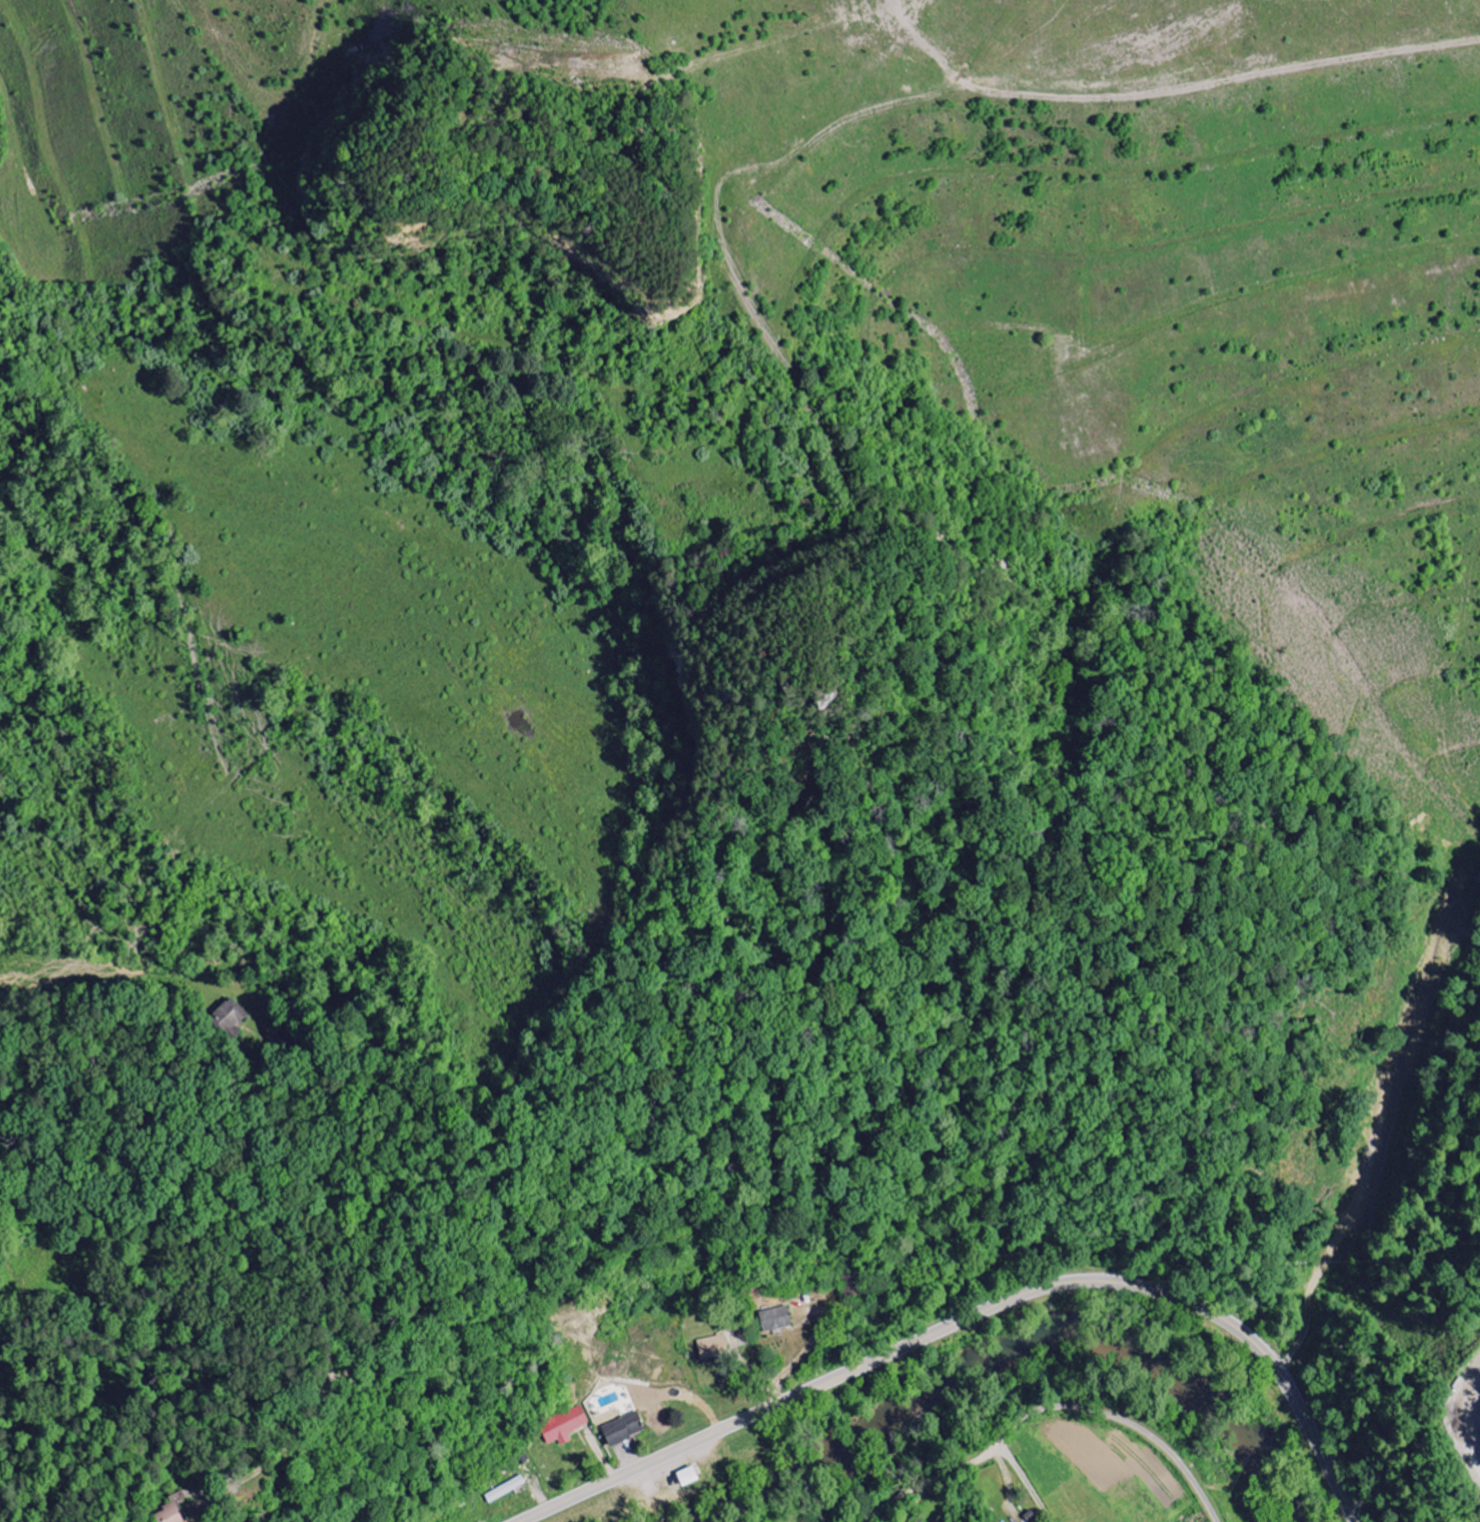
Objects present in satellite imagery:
quarry: (899, 355)
building: (233, 1015)
road: (979, 1313)
building: (777, 1319)
building: (710, 1348)
road: (1050, 1408)
building: (565, 1426)
building: (625, 1429)
building: (689, 1476)
building: (170, 1515)

